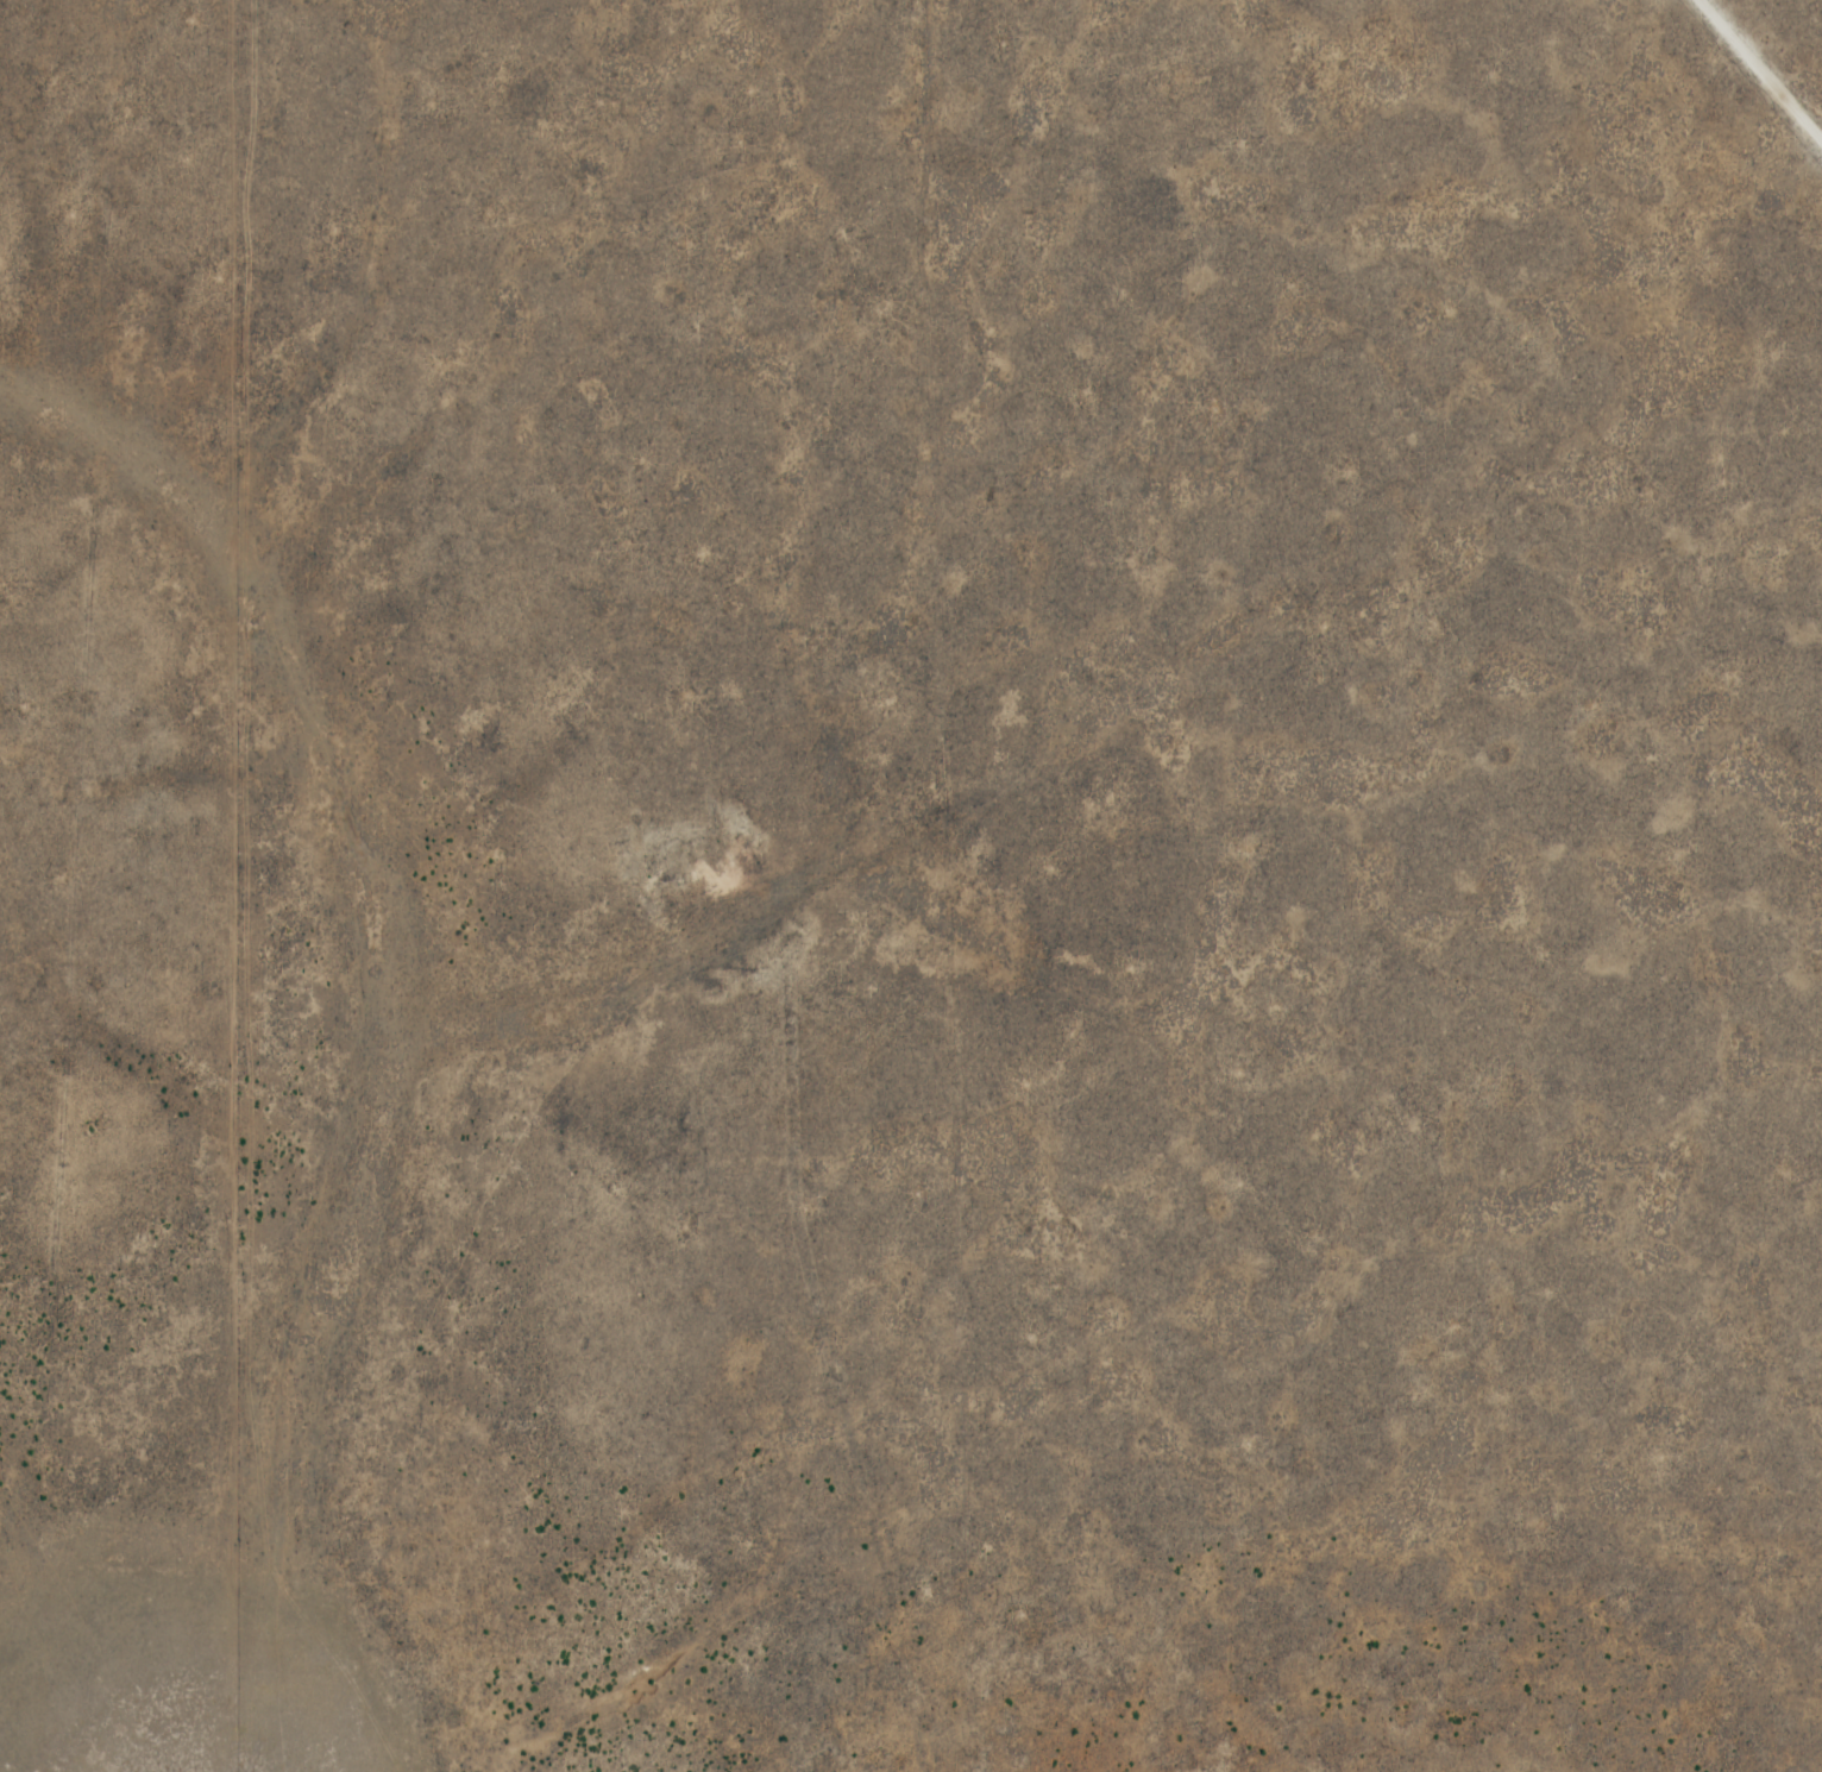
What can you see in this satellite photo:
road: (1759, 70)

